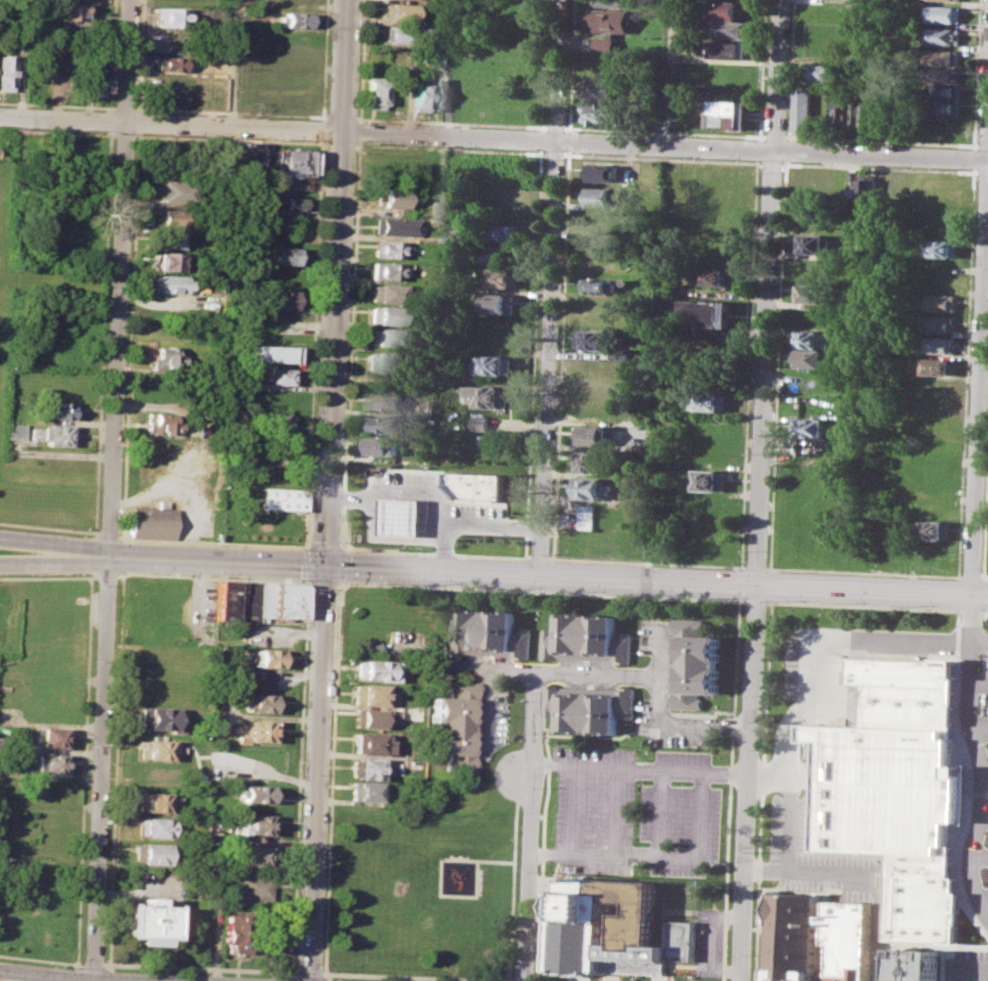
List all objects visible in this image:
building: (956, 0)
building: (610, 3)
building: (508, 5)
building: (729, 9)
building: (71, 12)
building: (400, 12)
building: (943, 14)
building: (173, 17)
building: (297, 20)
building: (609, 20)
building: (735, 29)
building: (406, 35)
building: (943, 35)
building: (602, 45)
building: (686, 46)
building: (730, 49)
building: (826, 51)
building: (413, 54)
building: (942, 56)
building: (443, 58)
road: (20, 59)
road: (324, 60)
road: (360, 60)
building: (171, 63)
road: (544, 63)
road: (573, 63)
road: (232, 64)
building: (598, 66)
road: (760, 68)
road: (789, 69)
building: (826, 72)
road: (977, 72)
building: (7, 73)
road: (664, 73)
building: (941, 74)
building: (96, 76)
road: (884, 77)
building: (599, 89)
building: (944, 90)
building: (375, 92)
building: (419, 92)
building: (398, 93)
building: (438, 94)
building: (169, 97)
road: (107, 105)
building: (943, 107)
building: (802, 110)
building: (869, 111)
building: (601, 112)
building: (731, 113)
building: (843, 113)
road: (452, 121)
road: (171, 125)
road: (556, 126)
road: (542, 128)
road: (321, 129)
road: (570, 129)
road: (358, 130)
road: (663, 131)
road: (773, 135)
road: (542, 139)
road: (880, 139)
road: (570, 140)
road: (358, 142)
road: (983, 145)
road: (665, 147)
road: (974, 147)
road: (757, 148)
road: (786, 149)
road: (555, 153)
road: (661, 157)
road: (974, 158)
building: (246, 160)
building: (294, 162)
road: (770, 162)
road: (878, 166)
building: (601, 171)
road: (982, 172)
building: (869, 185)
building: (175, 191)
building: (394, 195)
building: (600, 195)
building: (286, 202)
building: (814, 209)
building: (171, 215)
building: (395, 224)
building: (456, 229)
building: (505, 230)
building: (170, 238)
building: (813, 242)
building: (942, 247)
building: (387, 248)
road: (354, 250)
building: (497, 252)
building: (285, 254)
building: (170, 259)
building: (451, 259)
building: (386, 269)
building: (718, 275)
building: (503, 276)
road: (120, 278)
building: (170, 284)
building: (598, 284)
road: (550, 288)
building: (811, 291)
building: (388, 293)
building: (282, 298)
building: (500, 301)
building: (940, 301)
building: (713, 312)
building: (386, 313)
building: (938, 323)
building: (385, 336)
building: (598, 337)
building: (812, 338)
road: (312, 343)
building: (939, 344)
road: (533, 351)
building: (622, 352)
building: (273, 353)
road: (562, 353)
building: (168, 356)
building: (811, 356)
building: (383, 360)
road: (748, 362)
building: (495, 363)
road: (777, 363)
building: (940, 364)
road: (978, 370)
road: (966, 371)
building: (450, 373)
building: (280, 375)
building: (490, 394)
building: (386, 400)
building: (711, 400)
building: (61, 409)
building: (276, 420)
building: (480, 421)
building: (159, 423)
building: (384, 424)
building: (814, 425)
building: (14, 430)
building: (59, 433)
building: (592, 433)
building: (384, 445)
building: (590, 460)
building: (710, 478)
building: (476, 485)
building: (590, 487)
road: (329, 490)
road: (760, 490)
building: (280, 497)
road: (434, 504)
building: (937, 505)
building: (587, 515)
building: (401, 516)
building: (151, 523)
road: (985, 523)
road: (48, 527)
building: (935, 529)
road: (108, 535)
road: (387, 537)
street lamp: (341, 540)
road: (212, 542)
road: (53, 545)
road: (443, 546)
road: (340, 547)
road: (435, 552)
road: (539, 557)
road: (53, 559)
road: (646, 561)
road: (304, 563)
road: (754, 566)
traffic signals: (326, 567)
road: (863, 571)
street lamp: (144, 572)
road: (106, 574)
road: (91, 575)
road: (971, 575)
road: (213, 576)
road: (984, 576)
road: (547, 577)
street lamp: (118, 578)
street lamp: (289, 578)
road: (339, 581)
street lamp: (369, 581)
road: (322, 582)
street lamp: (428, 584)
street lamp: (507, 587)
street lamp: (309, 590)
road: (539, 590)
street lamp: (572, 590)
road: (984, 593)
street lamp: (646, 594)
street lamp: (712, 597)
building: (287, 599)
building: (226, 600)
building: (263, 600)
road: (754, 600)
street lamp: (774, 600)
building: (248, 601)
road: (767, 601)
street lamp: (835, 602)
street lamp: (903, 605)
road: (969, 608)
road: (986, 609)
building: (486, 634)
building: (587, 639)
road: (978, 643)
building: (368, 647)
building: (265, 657)
road: (823, 657)
building: (694, 663)
building: (371, 670)
road: (514, 670)
street lamp: (305, 682)
road: (766, 682)
building: (369, 694)
building: (259, 702)
building: (588, 708)
road: (484, 712)
building: (159, 718)
road: (659, 718)
building: (368, 719)
road: (85, 724)
building: (454, 724)
road: (977, 726)
building: (256, 730)
building: (50, 737)
building: (369, 743)
building: (156, 749)
building: (50, 762)
street lamp: (109, 763)
road: (262, 763)
road: (100, 768)
road: (116, 768)
building: (368, 768)
road: (640, 768)
road: (977, 768)
road: (525, 773)
road: (966, 773)
road: (299, 774)
street lamp: (301, 774)
road: (331, 777)
parking lot: (972, 777)
building: (894, 787)
road: (730, 790)
building: (365, 791)
building: (254, 793)
building: (151, 802)
road: (977, 808)
parking lot: (638, 812)
road: (789, 819)
road: (543, 824)
building: (255, 825)
road: (529, 826)
building: (153, 828)
road: (663, 836)
road: (703, 836)
road: (976, 850)
building: (150, 852)
road: (595, 855)
building: (255, 856)
street lamp: (105, 860)
road: (766, 870)
road: (439, 875)
road: (874, 886)
building: (253, 887)
road: (512, 890)
road: (980, 896)
park: (420, 897)
building: (145, 921)
building: (617, 930)
building: (235, 932)
building: (798, 938)
building: (851, 940)
road: (712, 941)
road: (40, 958)
street lamp: (103, 959)
street lamp: (534, 961)
street lamp: (295, 962)
road: (91, 964)
building: (915, 964)
parking lot: (967, 965)
street lamp: (68, 966)
road: (199, 966)
road: (969, 969)
street lamp: (326, 970)
road: (308, 971)
road: (29, 974)
road: (417, 976)

